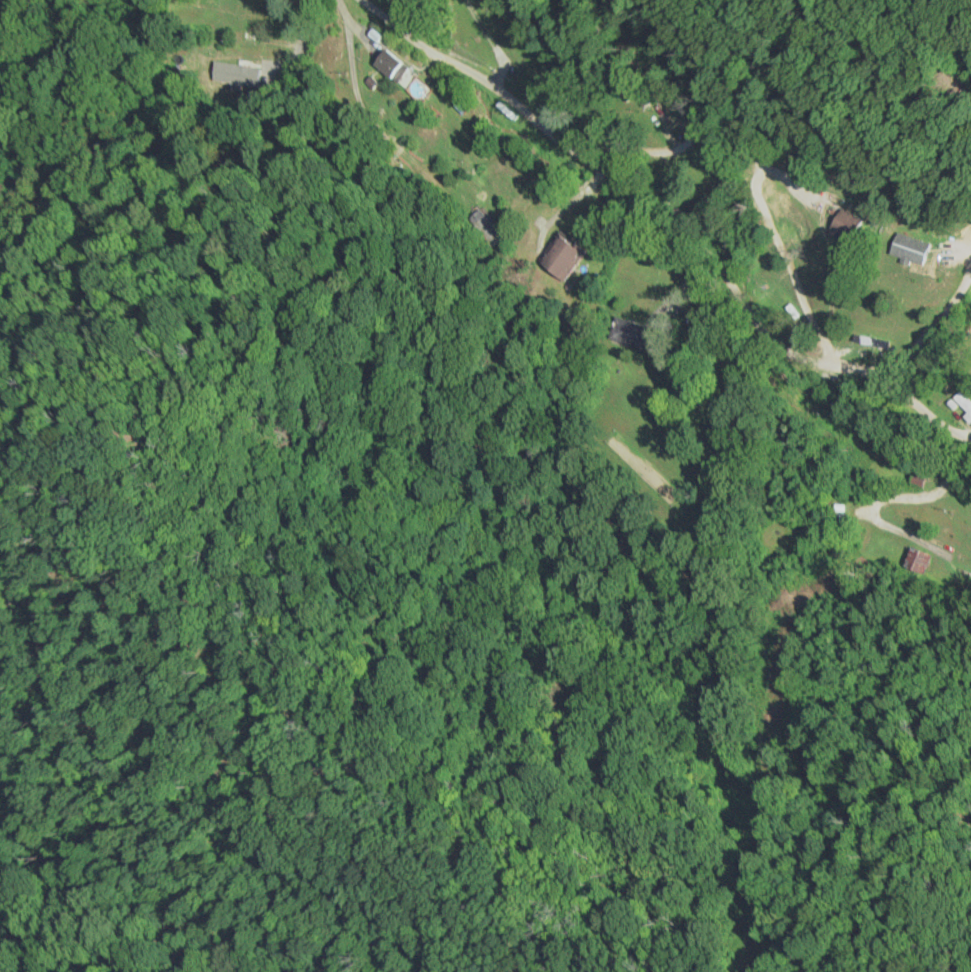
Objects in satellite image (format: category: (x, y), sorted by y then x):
building: (253, 35)
road: (279, 46)
road: (95, 59)
building: (388, 63)
road: (605, 161)
building: (909, 247)
building: (562, 259)
building: (920, 560)

